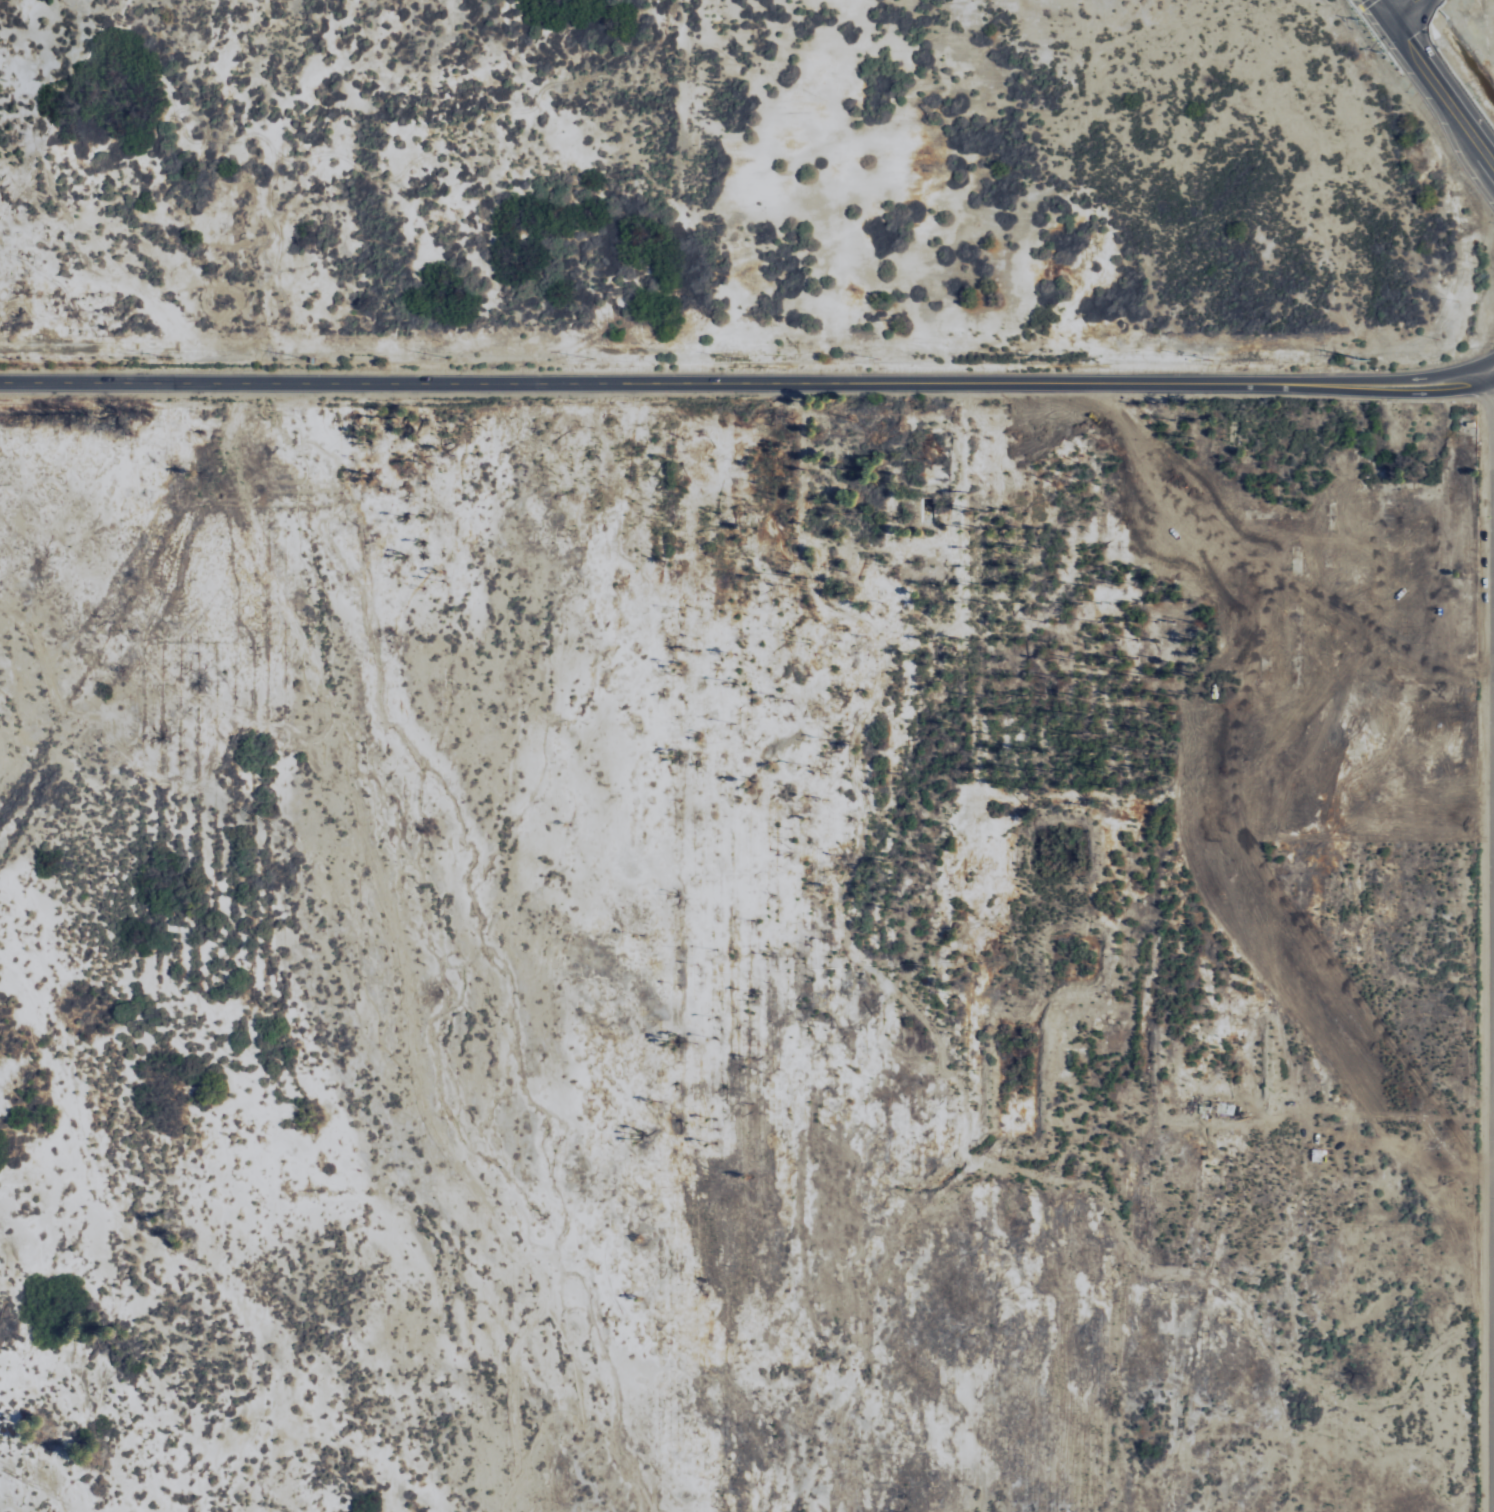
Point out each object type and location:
road: (1389, 8)
road: (1406, 8)
road: (1444, 86)
road: (746, 385)
road: (1493, 949)

